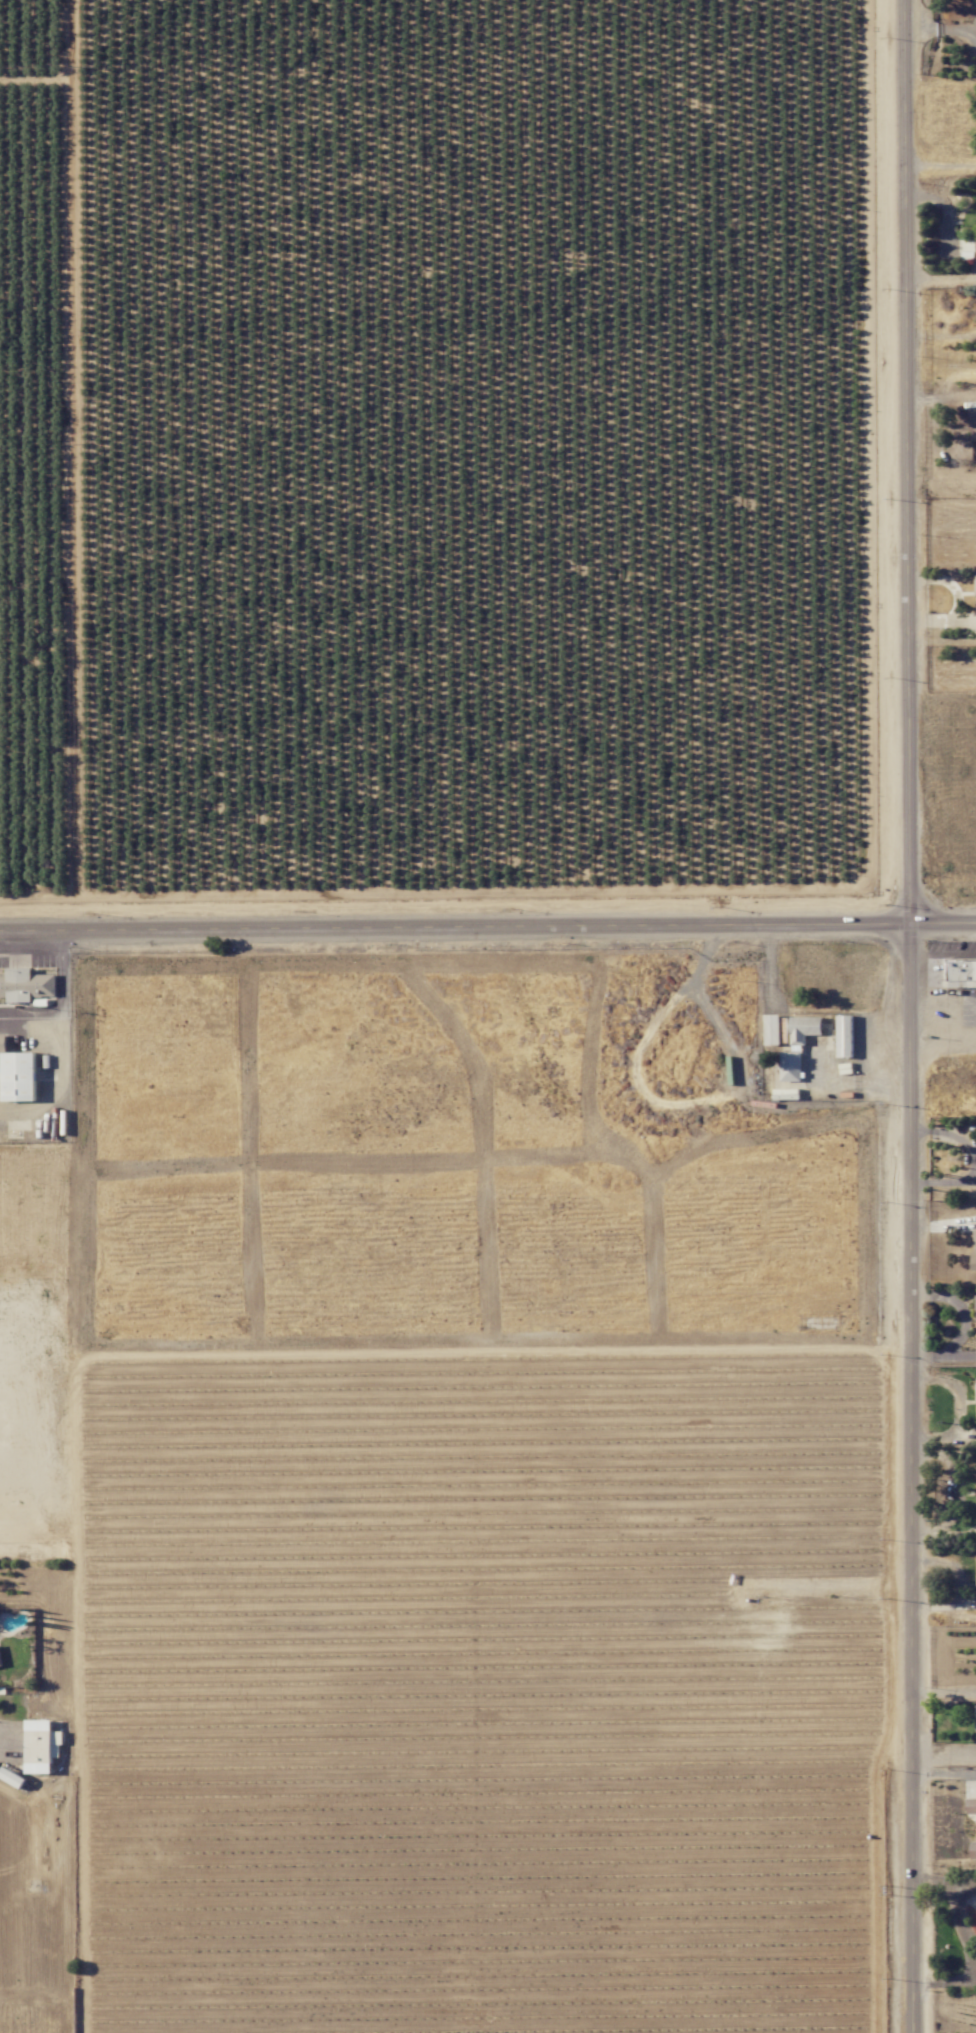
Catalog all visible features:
road: (941, 27)
building: (969, 248)
road: (941, 274)
building: (972, 424)
road: (519, 927)
road: (31, 932)
road: (944, 955)
building: (961, 973)
road: (62, 1001)
road: (912, 1016)
building: (772, 1029)
building: (844, 1036)
building: (3, 1043)
building: (798, 1046)
road: (943, 1049)
building: (19, 1076)
road: (975, 1161)
building: (974, 1250)
building: (1, 1659)
road: (10, 1739)
building: (42, 1745)
road: (944, 1773)
building: (12, 1777)
building: (971, 1805)
building: (973, 1850)
road: (970, 1881)
road: (964, 1931)
road: (969, 1981)

